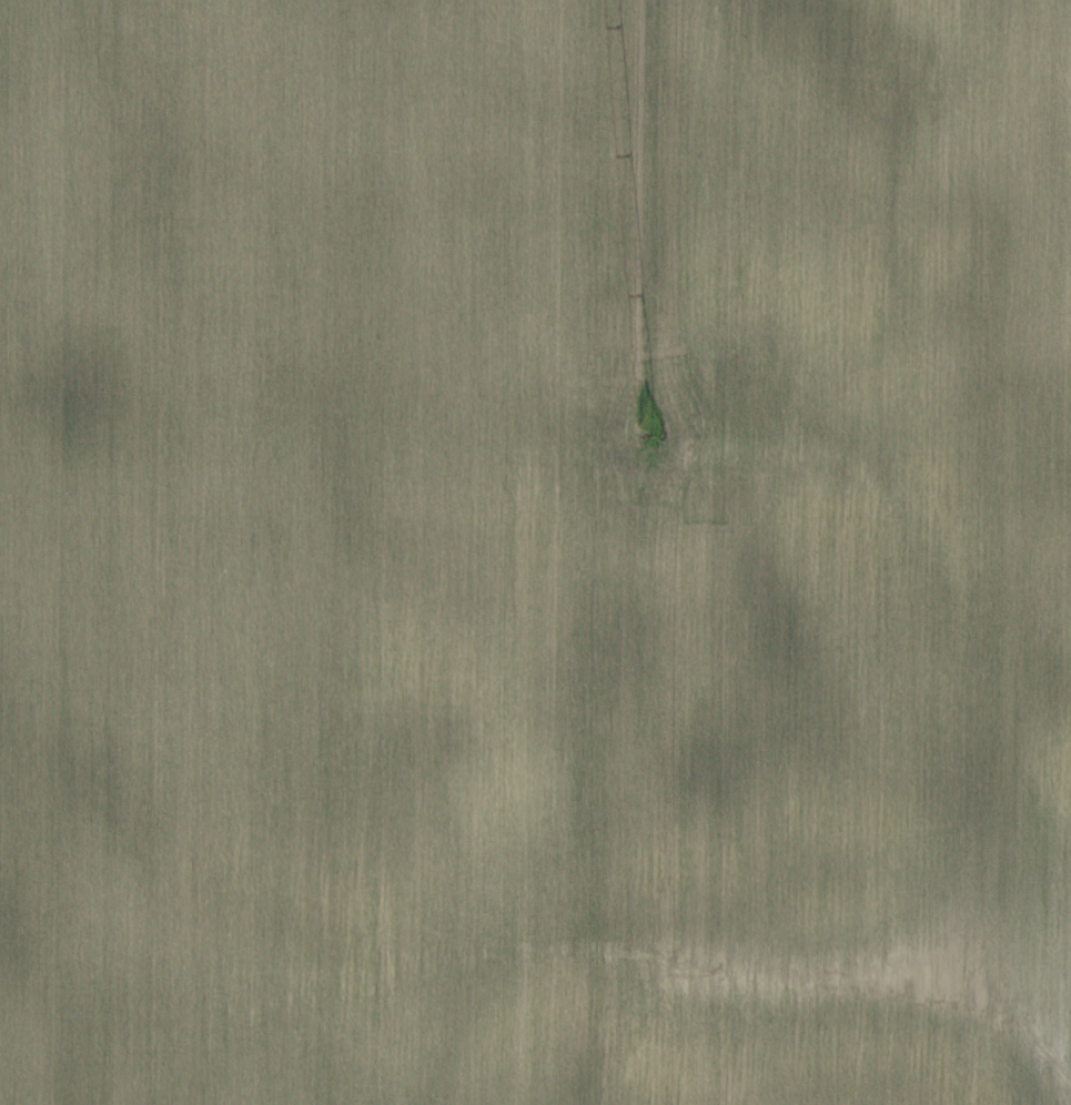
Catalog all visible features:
crop: (535, 552)

